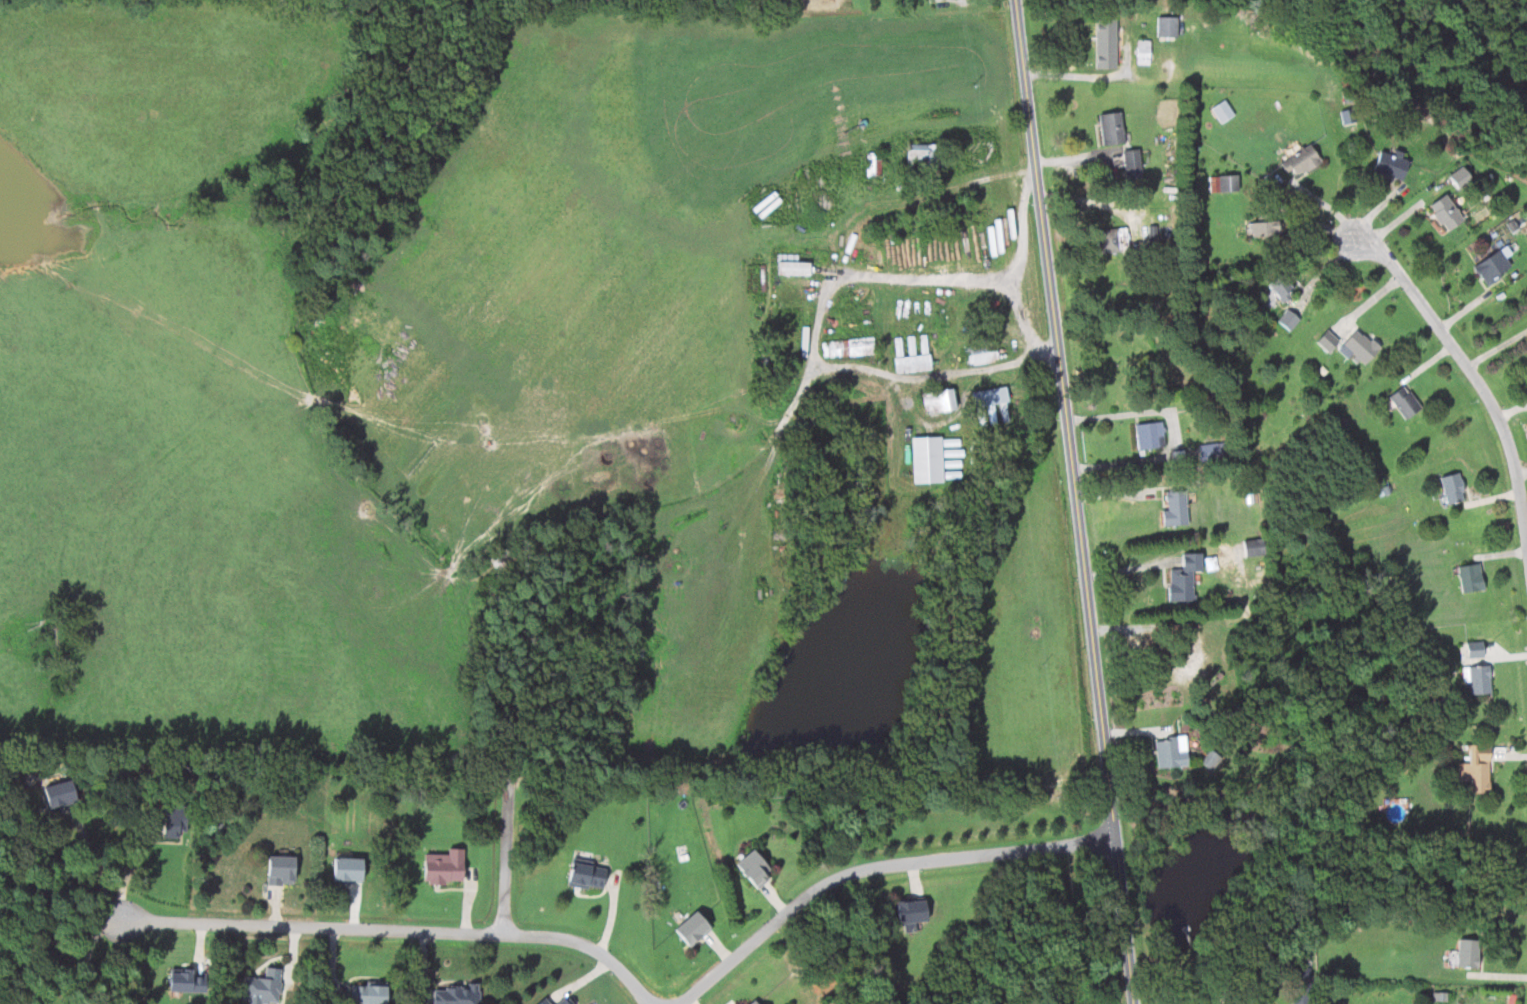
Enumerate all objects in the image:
building: (1165, 26)
building: (1105, 42)
building: (1141, 51)
road: (1078, 75)
building: (1220, 110)
building: (1346, 116)
building: (1110, 127)
building: (923, 153)
building: (1299, 160)
building: (1130, 162)
building: (871, 163)
building: (1389, 163)
building: (1459, 176)
building: (1222, 183)
road: (917, 196)
building: (1444, 212)
building: (1518, 222)
building: (1262, 227)
building: (1108, 240)
building: (789, 265)
building: (1491, 266)
road: (935, 268)
building: (1281, 285)
building: (1288, 319)
building: (1325, 340)
building: (847, 346)
building: (1357, 346)
building: (980, 351)
building: (910, 362)
building: (1526, 363)
road: (1472, 372)
building: (827, 395)
building: (937, 400)
building: (986, 400)
building: (1403, 401)
road: (1172, 431)
building: (1148, 434)
building: (927, 459)
building: (1451, 487)
road: (1078, 501)
building: (1173, 508)
building: (1252, 546)
building: (1182, 577)
building: (1469, 577)
building: (1473, 649)
building: (1476, 678)
building: (1169, 751)
building: (1209, 759)
building: (1477, 770)
building: (57, 793)
building: (172, 821)
road: (505, 856)
road: (96, 864)
road: (874, 864)
building: (442, 866)
building: (754, 867)
building: (279, 870)
building: (345, 870)
road: (128, 871)
building: (584, 875)
building: (910, 911)
road: (397, 928)
building: (690, 929)
building: (1466, 953)
road: (89, 954)
building: (183, 981)
building: (1300, 985)
building: (261, 987)
building: (365, 994)
building: (454, 995)
building: (542, 1001)
building: (561, 1001)
building: (750, 1002)
building: (753, 1002)

